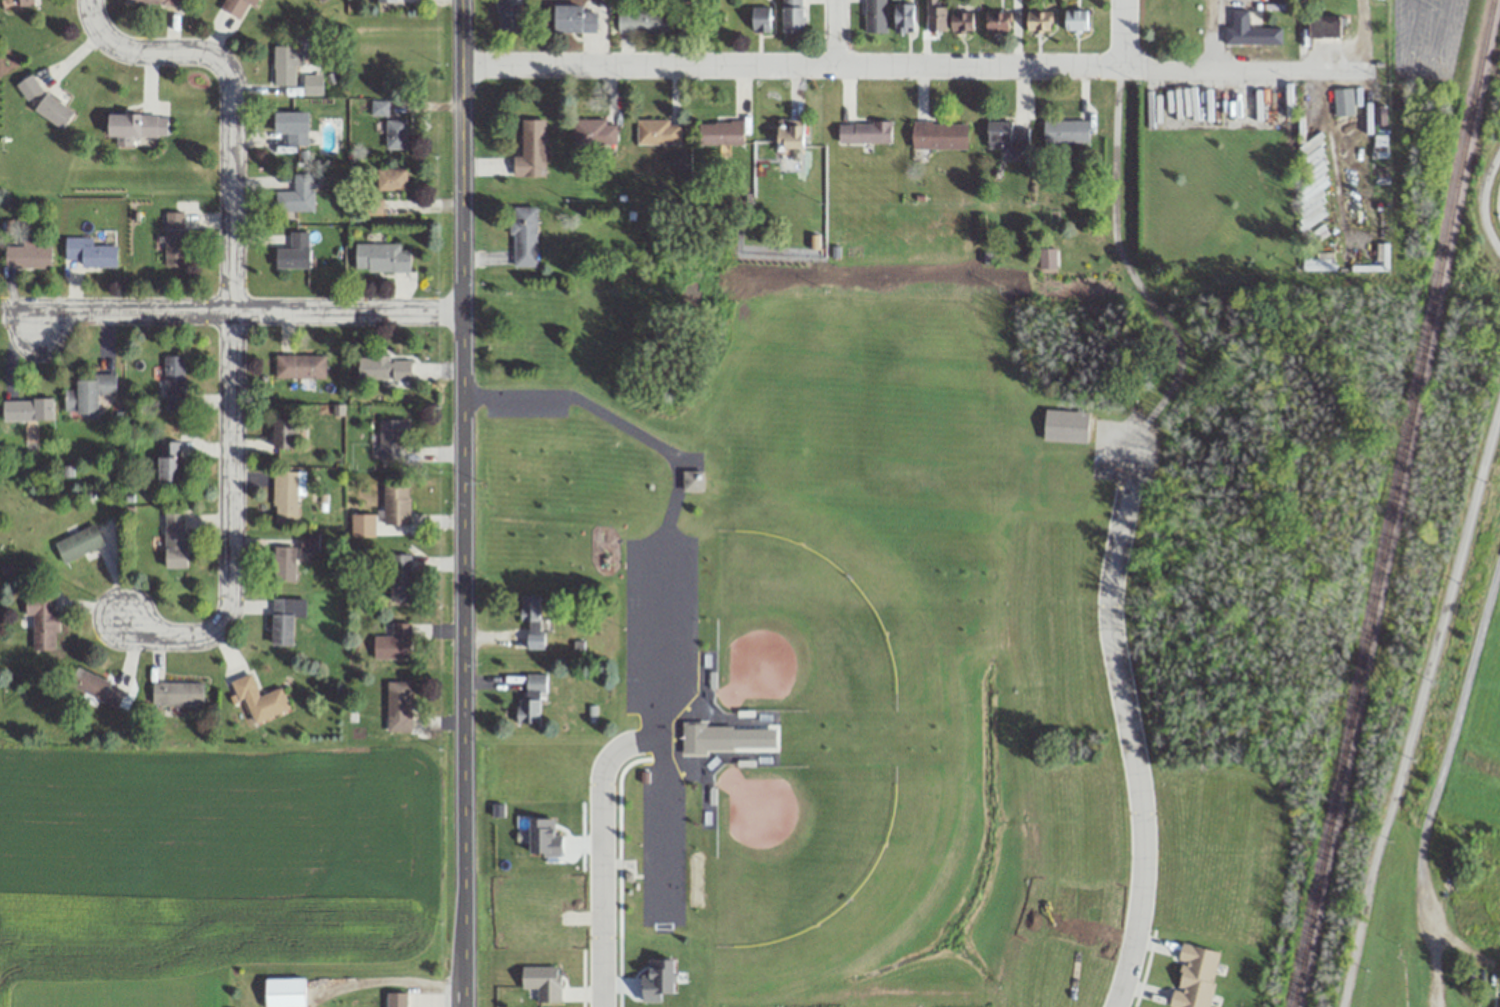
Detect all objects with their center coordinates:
building: (386, 0)
building: (153, 1)
building: (24, 2)
building: (236, 6)
building: (509, 14)
building: (792, 15)
building: (874, 15)
building: (904, 16)
building: (577, 17)
building: (936, 17)
building: (760, 18)
building: (1076, 19)
building: (962, 20)
building: (997, 20)
building: (1039, 20)
building: (642, 21)
road: (835, 32)
road: (1214, 33)
road: (1364, 33)
road: (1120, 34)
building: (1270, 35)
building: (284, 64)
road: (914, 65)
building: (312, 84)
building: (45, 102)
building: (378, 108)
building: (131, 126)
building: (291, 126)
building: (657, 130)
building: (1065, 130)
building: (594, 131)
building: (864, 131)
building: (721, 132)
building: (790, 132)
building: (395, 133)
building: (939, 134)
building: (1003, 134)
building: (531, 148)
building: (390, 178)
building: (296, 194)
road: (1480, 199)
building: (372, 206)
building: (523, 235)
building: (173, 239)
building: (294, 251)
building: (89, 252)
building: (27, 255)
building: (381, 257)
road: (1144, 288)
road: (231, 310)
road: (233, 313)
building: (299, 366)
building: (383, 367)
road: (462, 367)
building: (172, 382)
building: (88, 393)
building: (27, 409)
building: (284, 433)
building: (390, 438)
building: (170, 463)
building: (692, 480)
building: (285, 495)
railway: (1390, 503)
building: (395, 505)
building: (174, 540)
building: (308, 541)
building: (78, 543)
building: (283, 562)
road: (657, 567)
building: (400, 576)
park: (812, 609)
building: (285, 618)
building: (532, 620)
building: (42, 621)
building: (393, 642)
building: (97, 687)
building: (177, 693)
building: (259, 698)
building: (529, 699)
road: (1414, 702)
building: (398, 706)
building: (706, 738)
road: (1130, 748)
road: (600, 852)
park: (809, 863)
road: (463, 871)
building: (1194, 976)
building: (543, 981)
building: (284, 992)
building: (396, 999)

